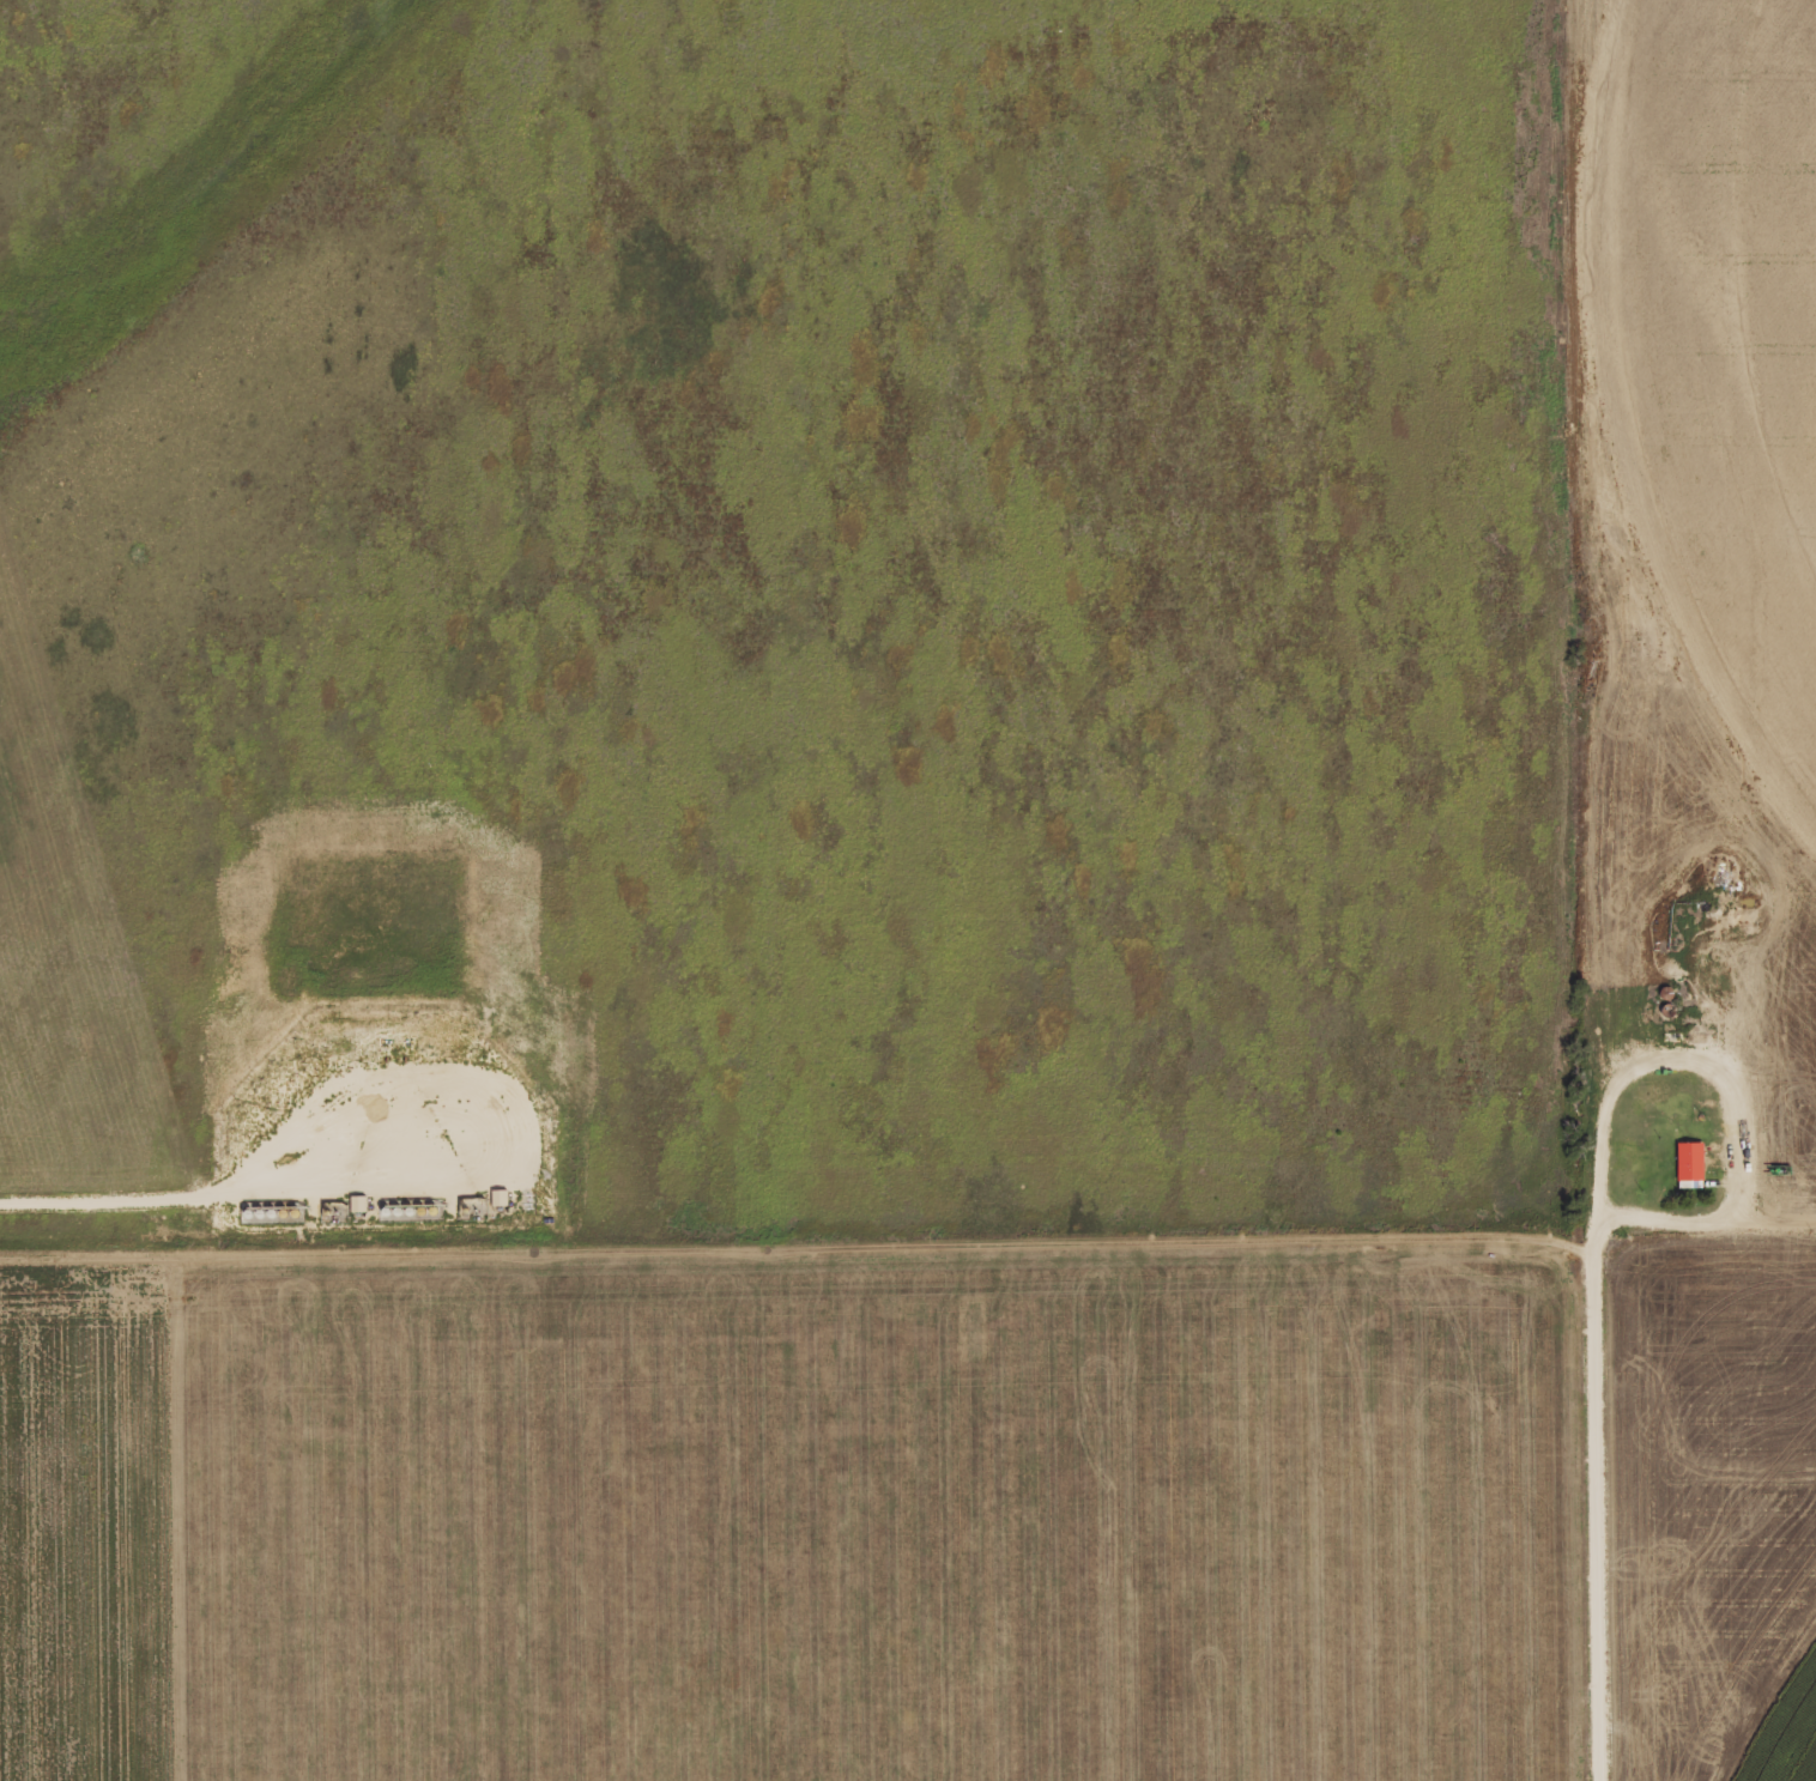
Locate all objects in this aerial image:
road: (1598, 1504)

